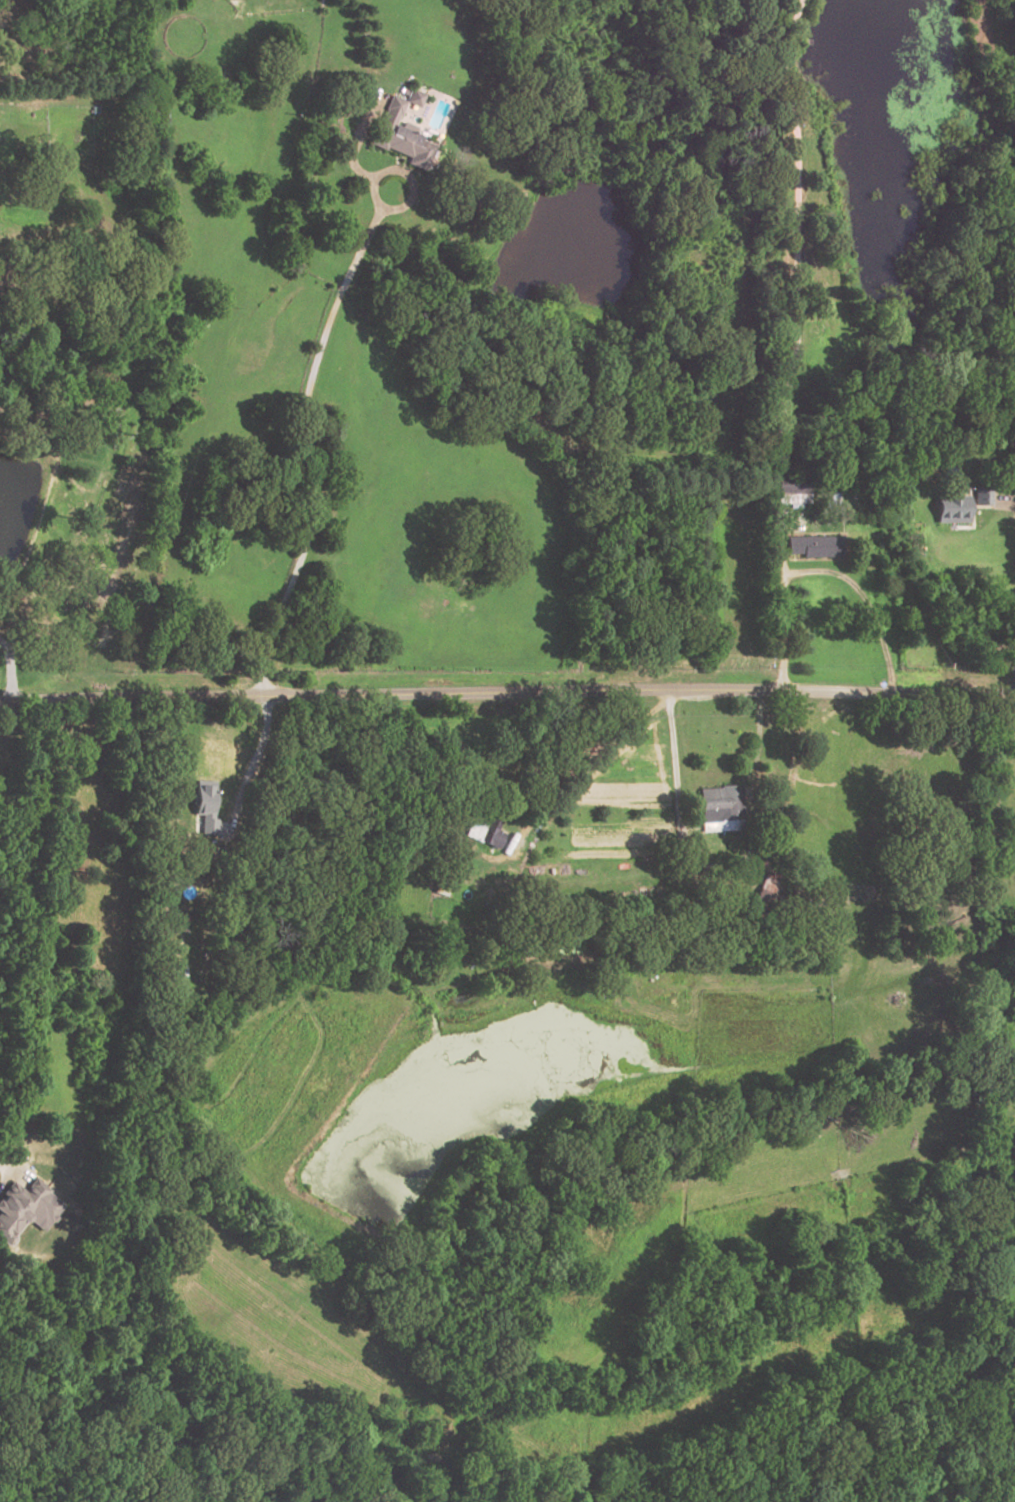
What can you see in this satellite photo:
building: (414, 97)
building: (400, 138)
road: (352, 143)
road: (795, 344)
road: (304, 385)
building: (792, 489)
building: (981, 495)
road: (1013, 504)
building: (950, 509)
building: (813, 545)
road: (862, 600)
road: (1014, 680)
road: (507, 691)
road: (249, 752)
road: (592, 752)
road: (673, 800)
building: (720, 804)
building: (201, 805)
building: (484, 830)
building: (767, 885)
road: (1, 1177)
building: (26, 1207)

